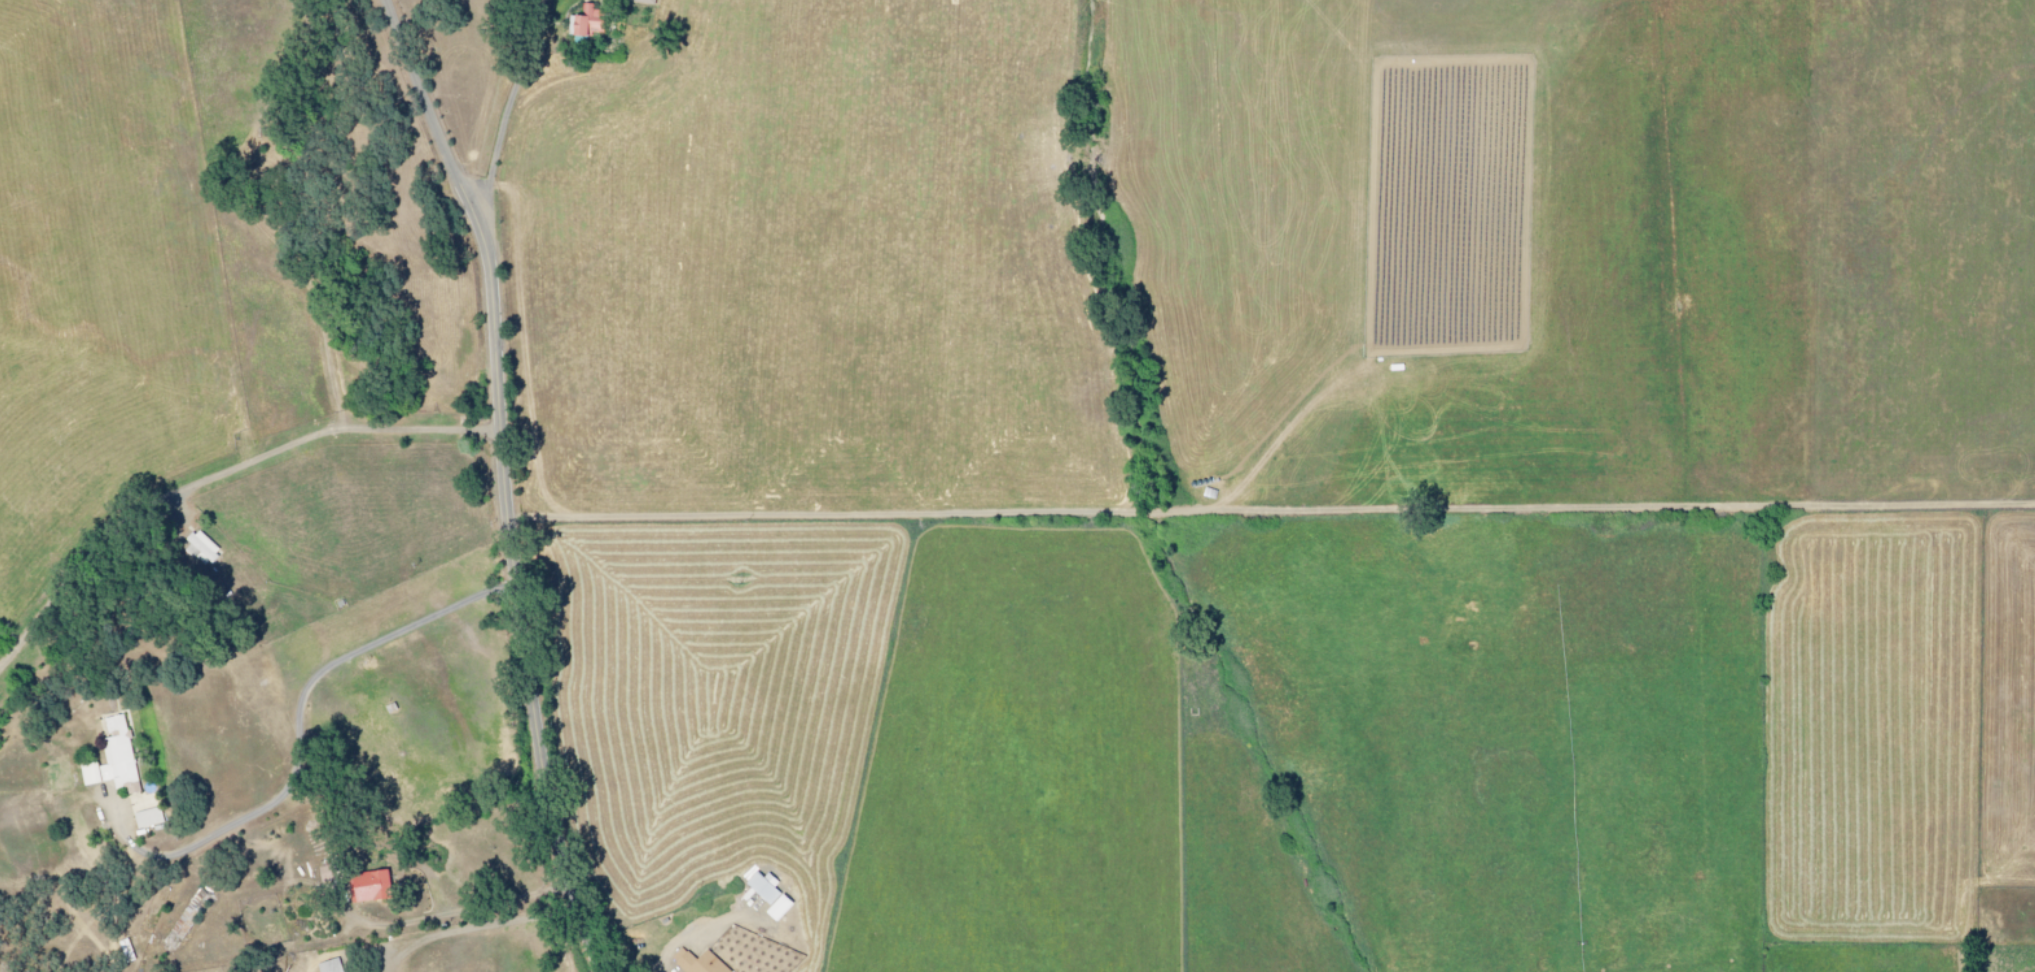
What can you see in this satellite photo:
building: (641, 1)
building: (583, 21)
road: (535, 92)
road: (506, 481)
building: (198, 548)
road: (312, 679)
building: (108, 759)
building: (143, 817)
building: (364, 886)
building: (765, 895)
road: (456, 909)
building: (181, 919)
road: (473, 925)
building: (733, 950)
building: (693, 962)
building: (327, 966)

